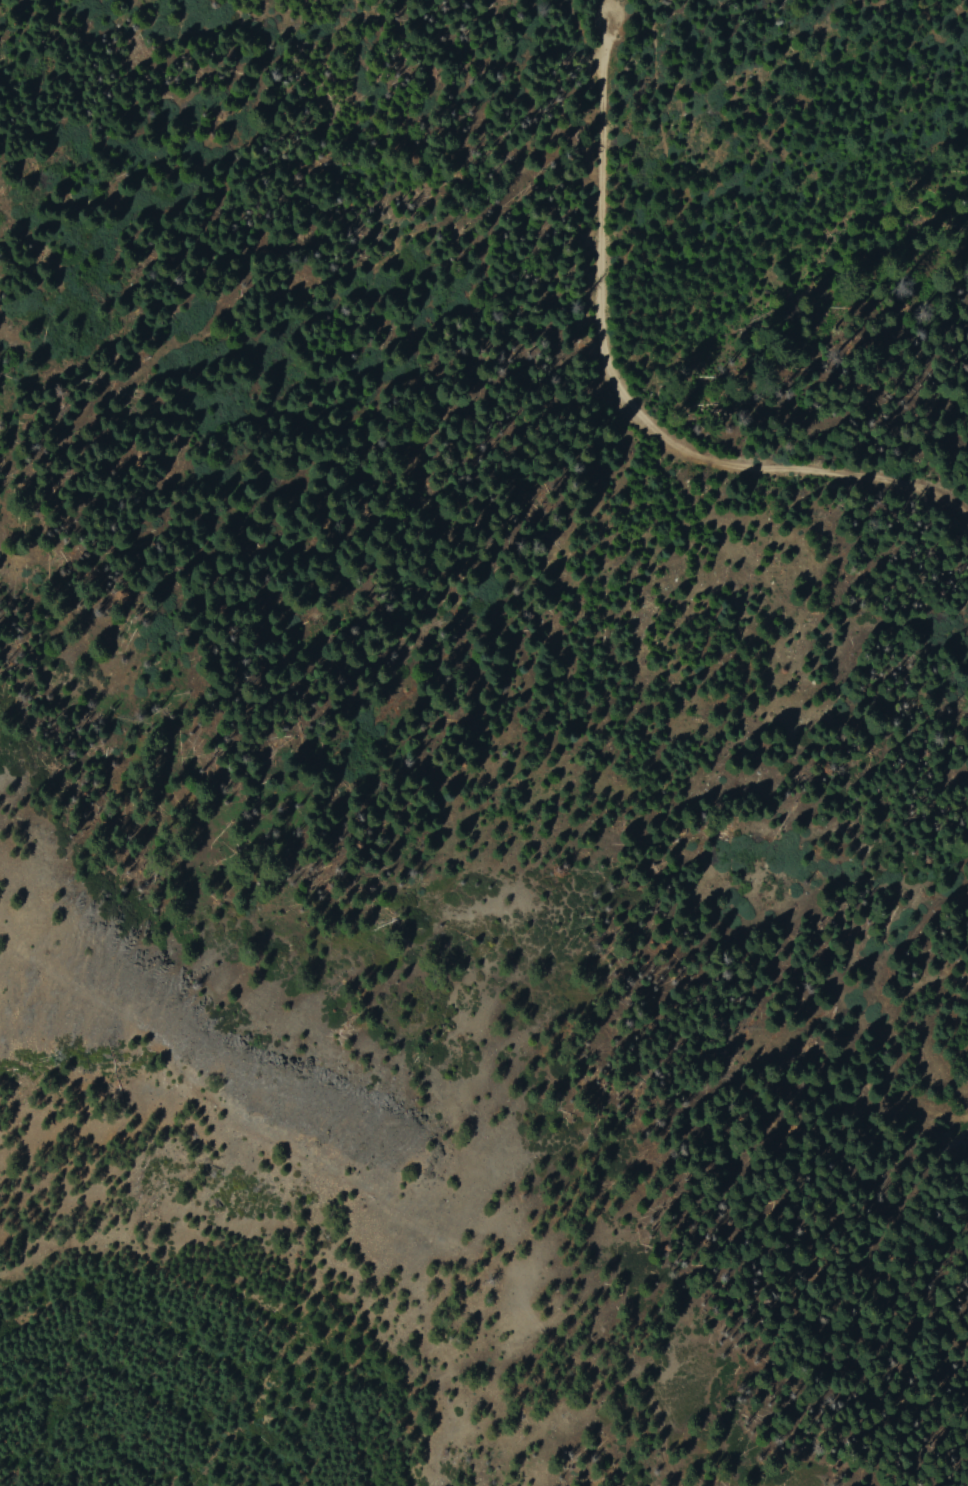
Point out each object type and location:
road: (604, 40)
road: (721, 295)
road: (616, 388)

